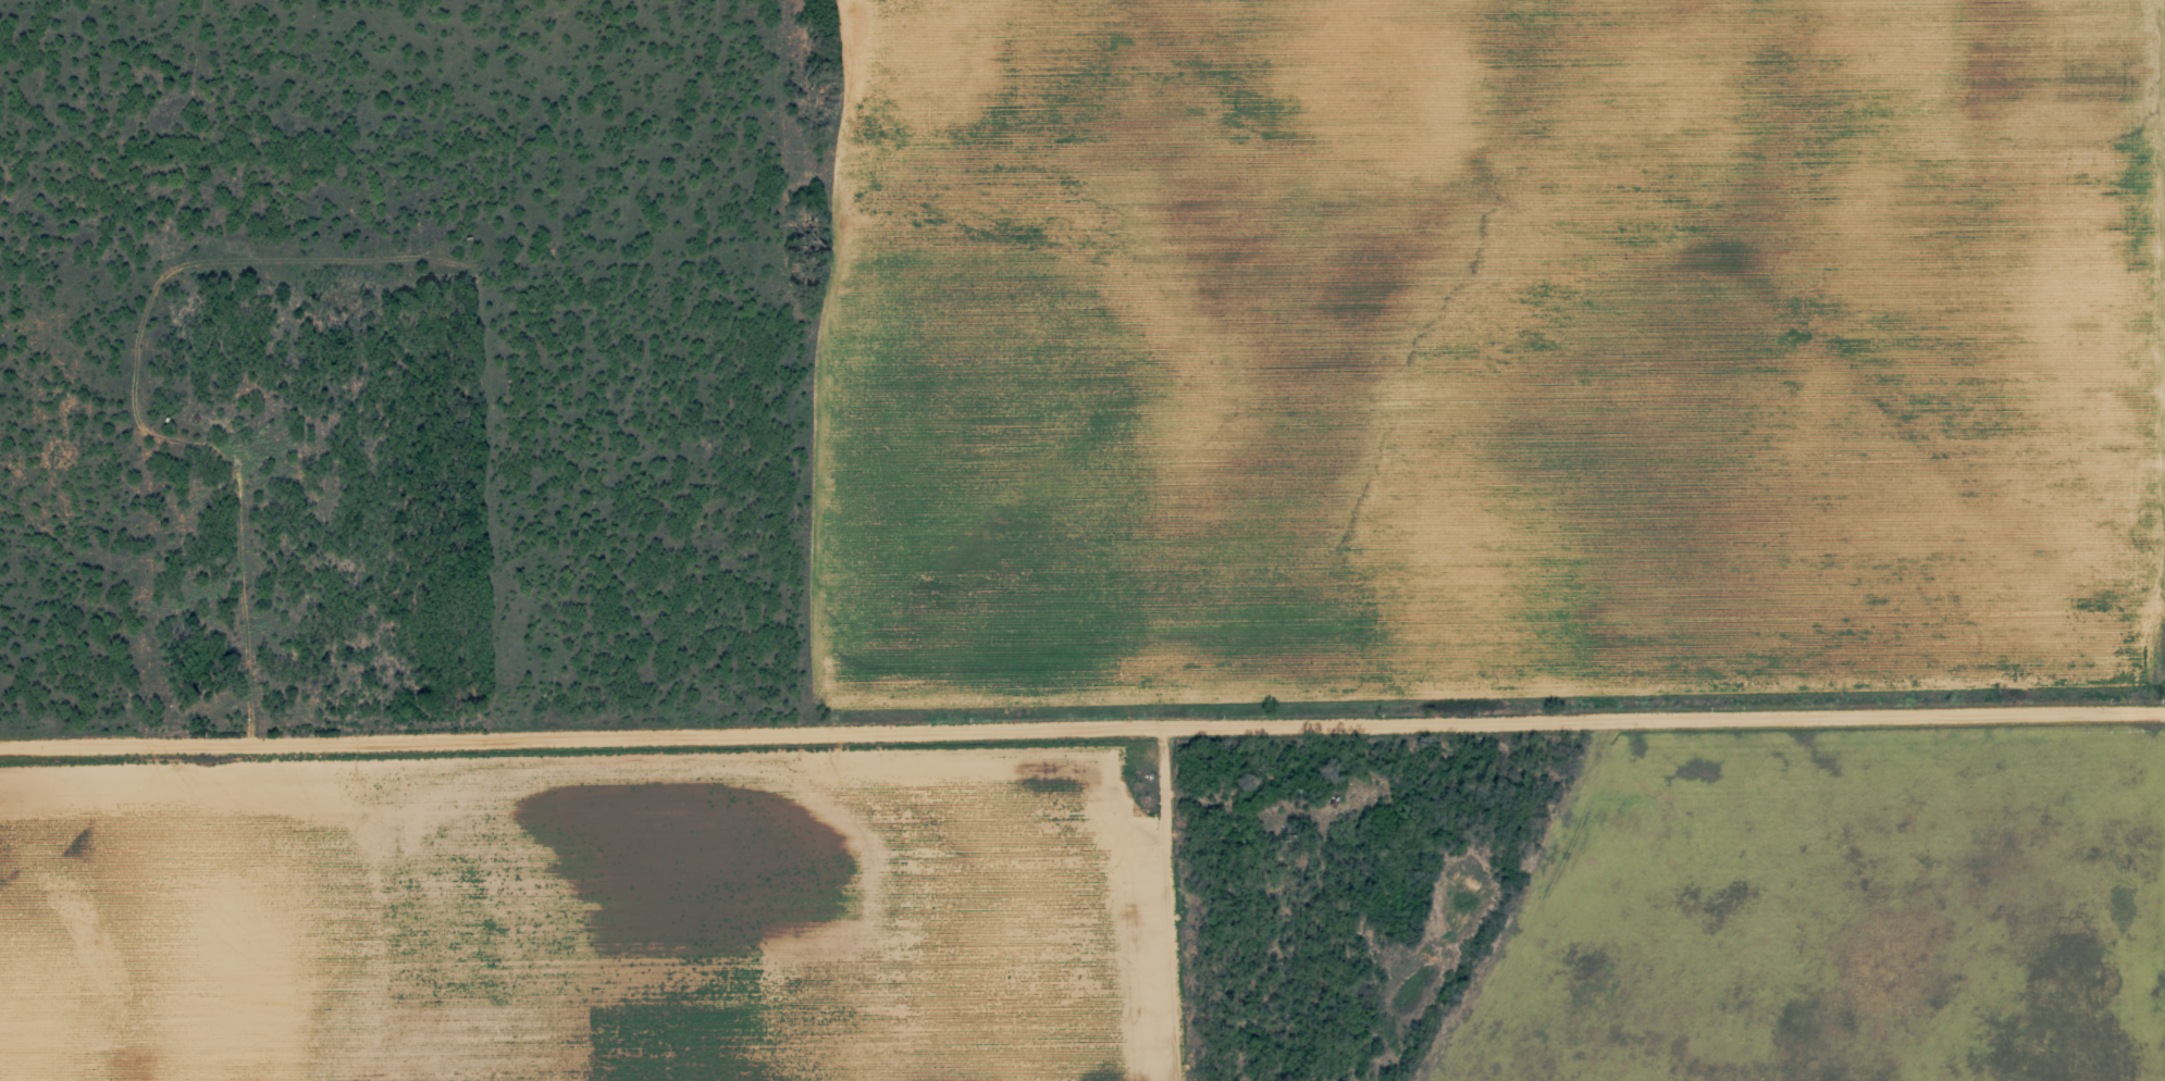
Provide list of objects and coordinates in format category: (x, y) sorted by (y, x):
road: (1082, 734)

